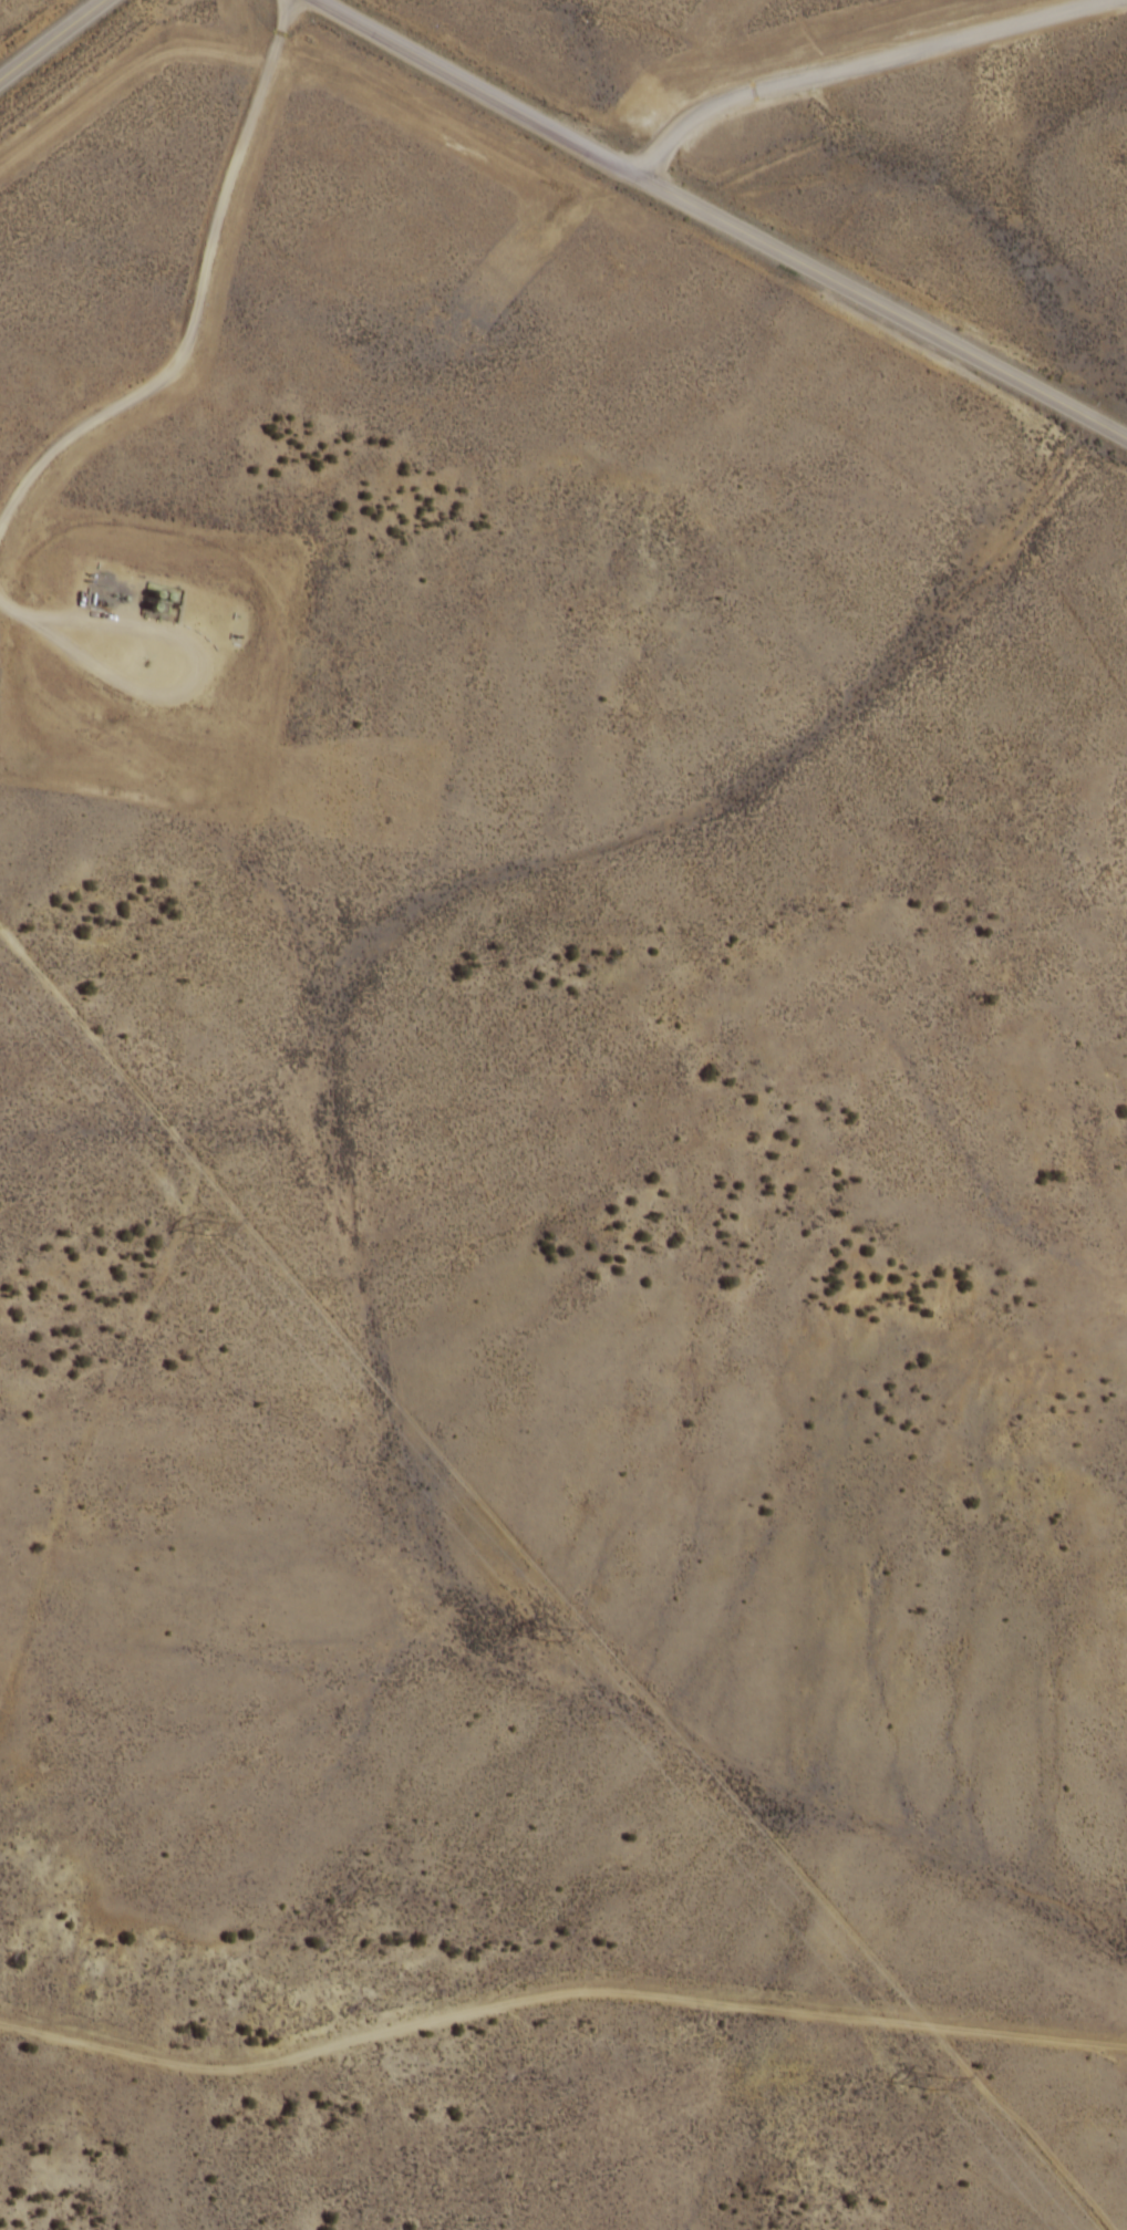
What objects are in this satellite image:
road: (50, 37)
road: (838, 71)
road: (720, 221)
power tower: (215, 1232)
power tower: (558, 1639)
power tower: (932, 2087)

